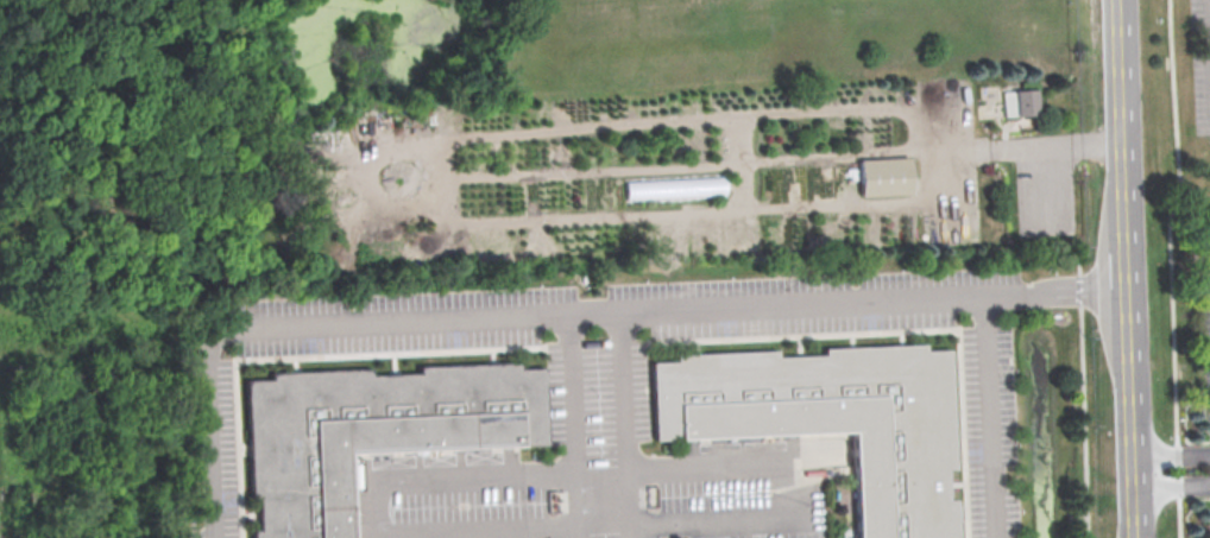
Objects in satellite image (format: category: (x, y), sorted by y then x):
parking lot: (1203, 67)
building: (1020, 102)
road: (752, 120)
road: (1048, 150)
parking lot: (1209, 165)
building: (883, 176)
road: (1172, 265)
road: (1126, 268)
road: (1055, 293)
road: (498, 317)
parking lot: (1205, 342)
road: (990, 417)
building: (832, 419)
building: (371, 430)
road: (1170, 455)
road: (750, 467)
road: (525, 473)
road: (1170, 485)
road: (630, 501)
road: (579, 504)
road: (560, 537)

